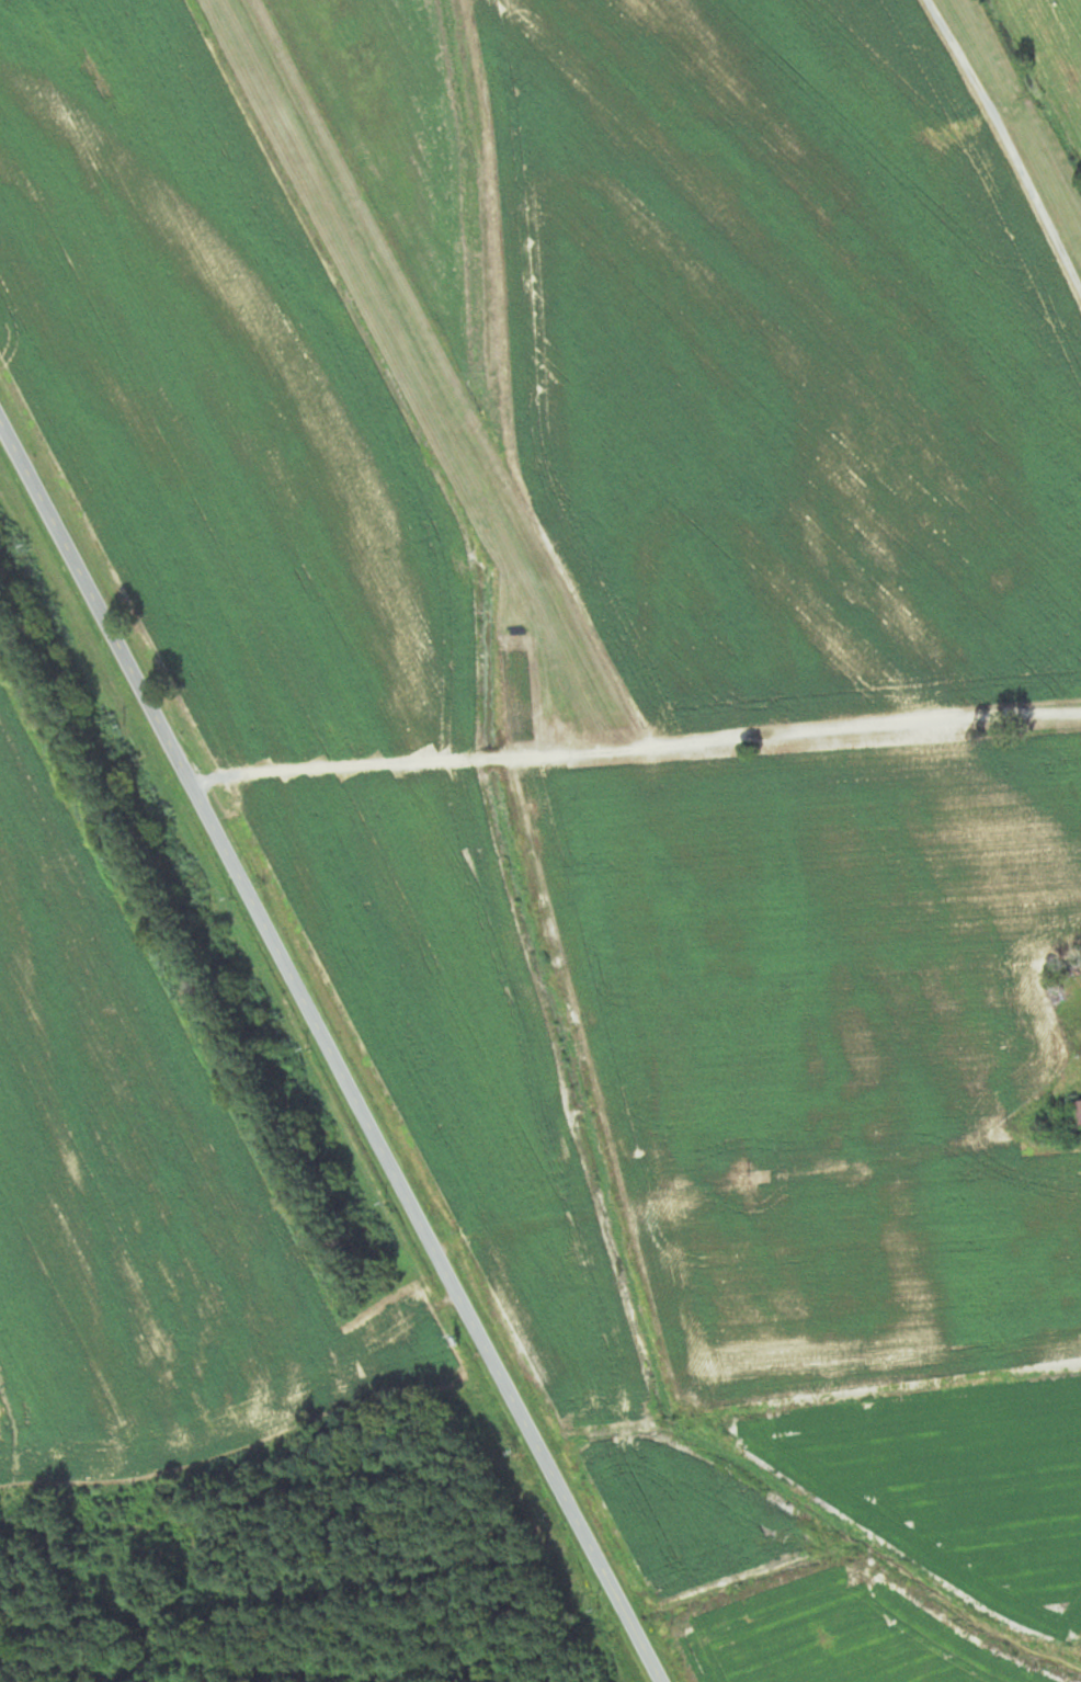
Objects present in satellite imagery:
road: (111, 630)
road: (634, 743)
building: (1056, 995)
building: (1077, 1112)
road: (441, 1262)

